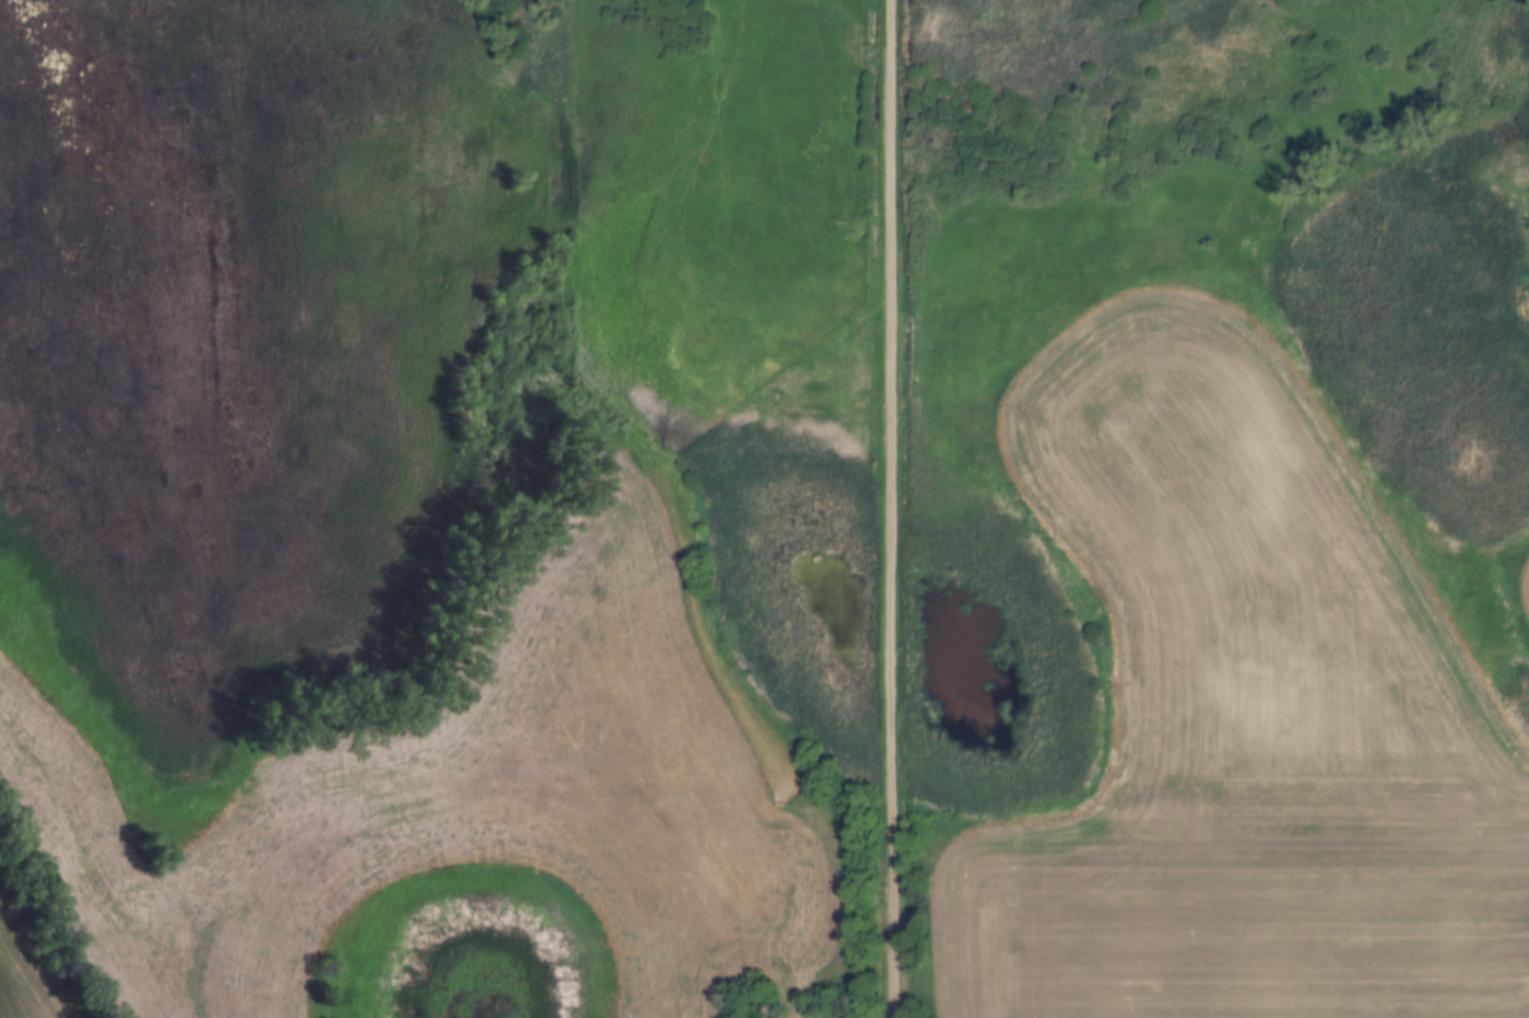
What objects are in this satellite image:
road: (578, 350)
road: (886, 508)

